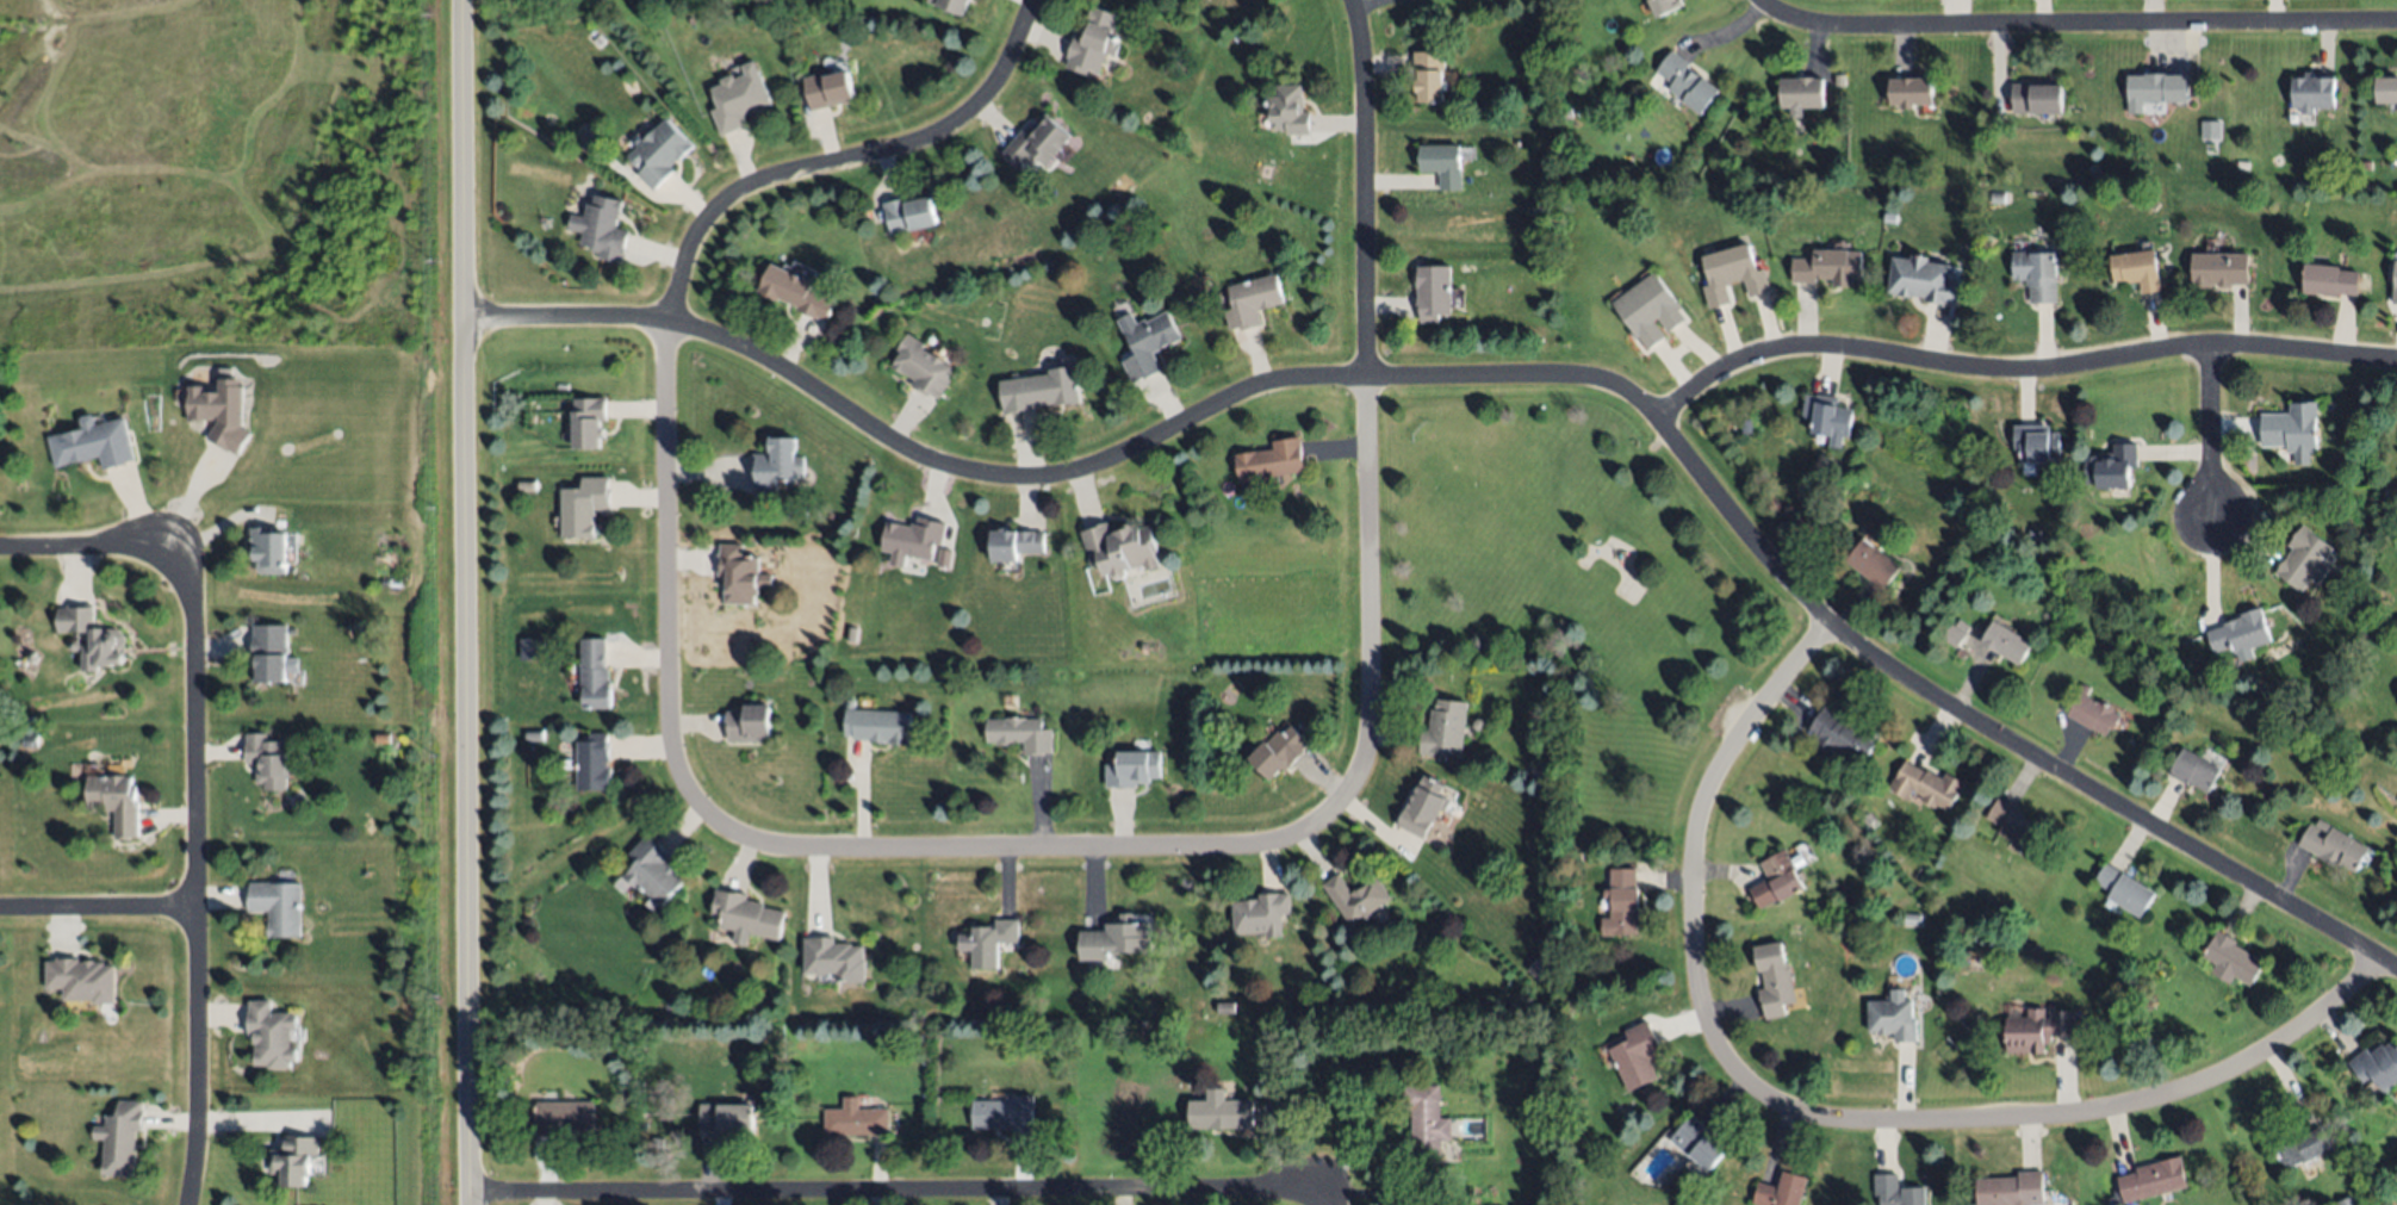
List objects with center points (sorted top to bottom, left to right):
building: (949, 5)
building: (1664, 6)
road: (2070, 26)
building: (1094, 41)
building: (1429, 74)
building: (1688, 81)
building: (2156, 87)
building: (828, 88)
building: (2385, 89)
building: (1800, 92)
building: (1909, 92)
building: (2311, 92)
building: (739, 98)
building: (2037, 98)
building: (1287, 110)
building: (2209, 130)
building: (1037, 142)
building: (660, 153)
building: (1443, 163)
building: (2246, 164)
building: (1820, 178)
building: (2335, 191)
building: (1741, 197)
building: (1998, 198)
building: (909, 213)
building: (603, 226)
building: (1828, 267)
building: (2136, 269)
building: (2219, 269)
building: (802, 271)
building: (1731, 274)
building: (2037, 275)
building: (1923, 279)
building: (2329, 279)
building: (2395, 282)
building: (796, 291)
building: (1434, 293)
building: (1250, 302)
building: (1650, 310)
building: (1145, 342)
road: (2016, 366)
building: (923, 367)
road: (1503, 377)
building: (1041, 390)
building: (221, 411)
building: (1827, 417)
building: (589, 421)
building: (1744, 424)
road: (2212, 429)
building: (2292, 429)
building: (2035, 442)
building: (93, 443)
building: (2358, 459)
building: (1271, 460)
building: (775, 462)
building: (2111, 466)
building: (584, 507)
building: (797, 513)
building: (2033, 534)
building: (913, 539)
road: (80, 542)
building: (1016, 542)
building: (1119, 547)
building: (269, 549)
building: (948, 554)
building: (2304, 559)
building: (1873, 563)
building: (740, 574)
park: (1581, 584)
road: (465, 602)
building: (2240, 632)
building: (1954, 633)
building: (852, 634)
building: (89, 636)
building: (2005, 642)
building: (73, 645)
building: (269, 652)
building: (595, 675)
building: (2396, 684)
building: (2094, 714)
building: (749, 722)
building: (878, 725)
building: (1443, 728)
building: (1020, 734)
building: (1843, 734)
building: (534, 735)
building: (1278, 751)
building: (267, 760)
building: (594, 762)
building: (1132, 769)
building: (2193, 769)
building: (1926, 785)
building: (117, 801)
building: (1423, 806)
building: (2014, 826)
building: (2333, 845)
road: (915, 849)
road: (199, 868)
building: (652, 869)
building: (1780, 877)
building: (2124, 889)
building: (1356, 896)
building: (1622, 903)
road: (100, 905)
building: (1858, 906)
building: (279, 907)
building: (746, 913)
building: (1260, 914)
building: (1912, 919)
building: (1114, 939)
building: (988, 940)
building: (833, 957)
building: (2229, 958)
building: (1774, 979)
building: (81, 980)
building: (1225, 1007)
building: (750, 1008)
building: (1892, 1019)
building: (2037, 1029)
building: (272, 1036)
building: (1637, 1055)
building: (2377, 1064)
building: (1221, 1111)
building: (1005, 1113)
building: (563, 1116)
road: (1825, 1118)
building: (725, 1119)
building: (853, 1119)
building: (1426, 1124)
building: (120, 1137)
building: (1697, 1142)
building: (2302, 1148)
building: (296, 1161)
building: (2151, 1180)
building: (2010, 1190)
road: (889, 1191)
building: (1781, 1191)
building: (1898, 1191)
building: (2347, 1200)
road: (1309, 1203)

